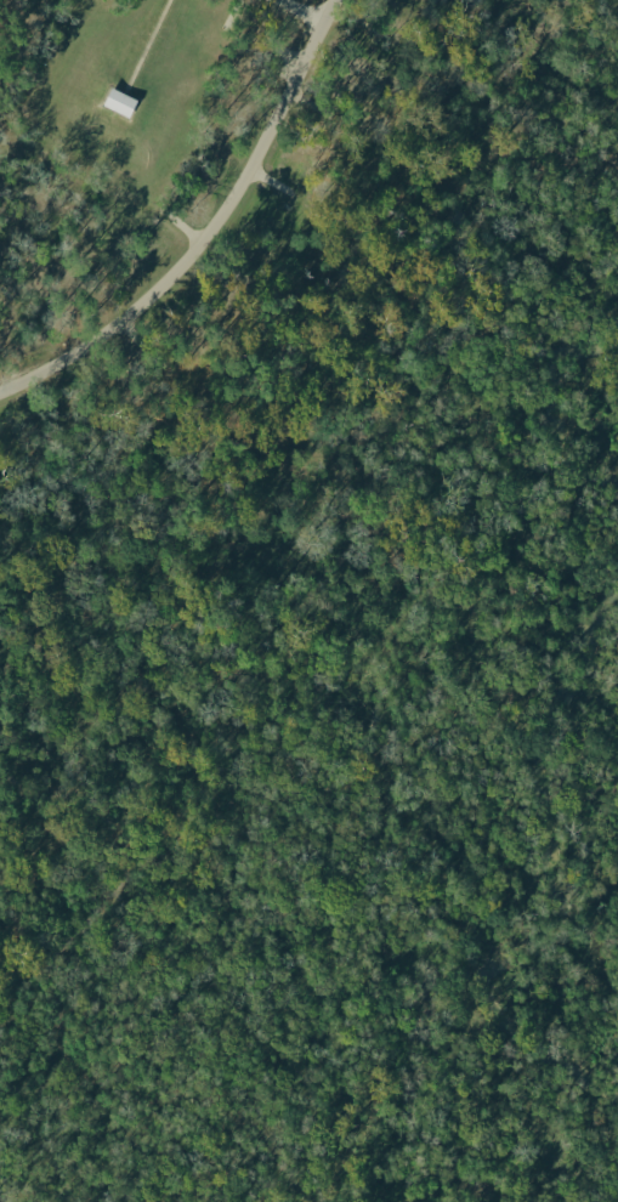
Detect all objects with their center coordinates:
road: (301, 10)
road: (142, 46)
parking lot: (285, 62)
road: (307, 101)
building: (117, 102)
road: (270, 180)
road: (182, 225)
road: (206, 234)
road: (134, 341)
river: (551, 404)
park: (308, 601)
river: (549, 884)

